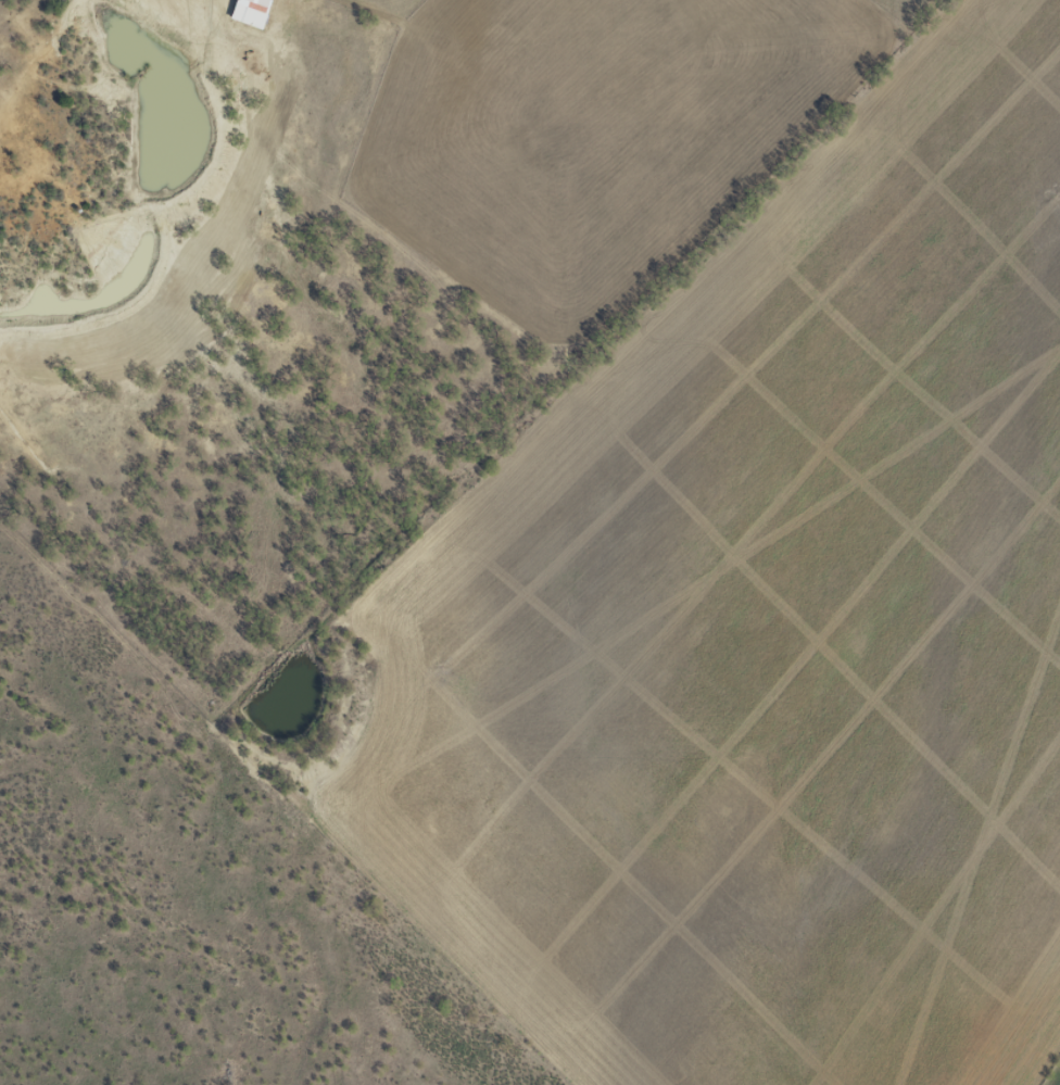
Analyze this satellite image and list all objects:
building: (252, 4)
road: (1021, 269)

